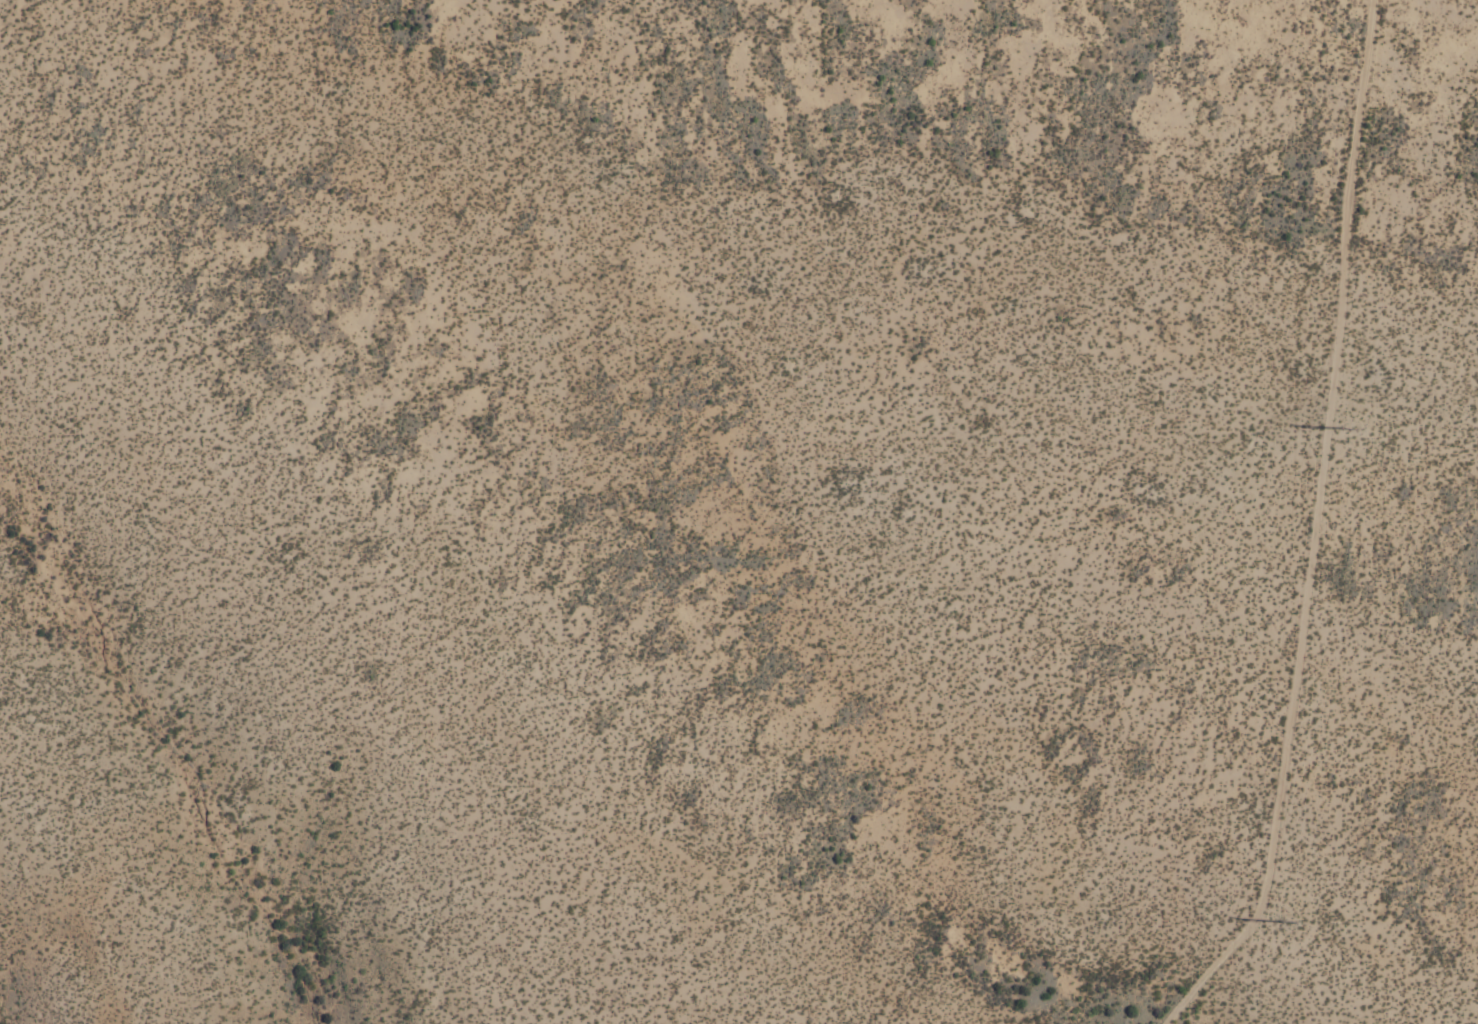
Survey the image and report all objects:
power tower: (1346, 427)
road: (1310, 531)
power tower: (1283, 918)

